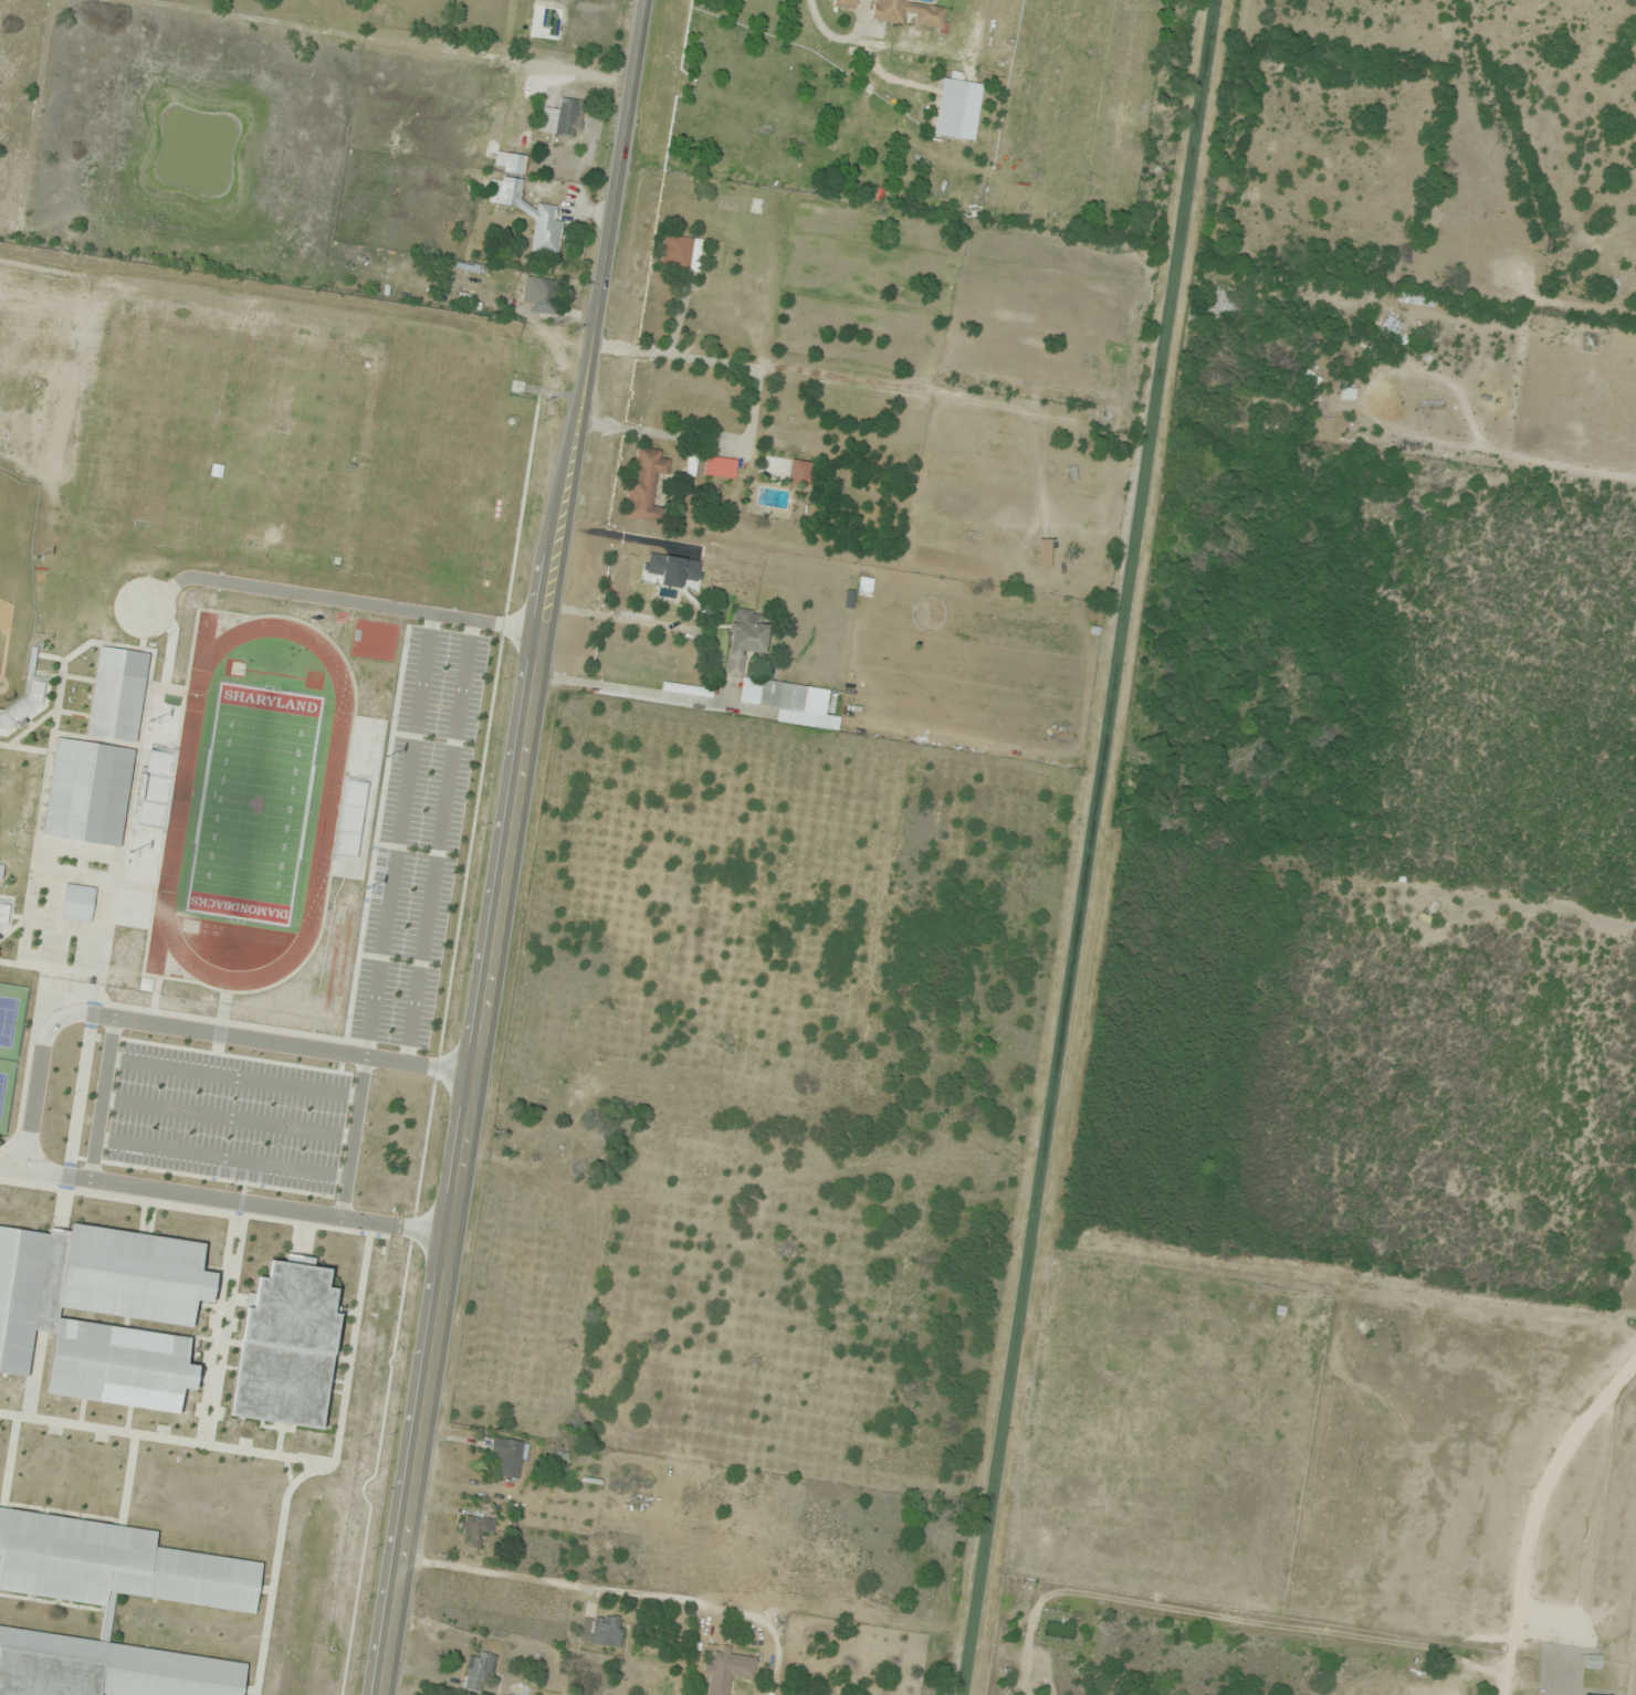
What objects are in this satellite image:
building: (845, 4)
building: (906, 12)
building: (564, 118)
building: (511, 164)
building: (741, 206)
building: (545, 215)
building: (682, 252)
building: (545, 296)
road: (1552, 307)
building: (692, 465)
building: (720, 467)
building: (785, 471)
building: (646, 486)
park: (15, 585)
road: (345, 601)
building: (688, 691)
building: (117, 695)
building: (87, 792)
park: (252, 804)
road: (401, 835)
road: (440, 842)
road: (514, 847)
building: (77, 903)
road: (223, 1013)
park: (9, 1044)
road: (234, 1078)
road: (35, 1092)
road: (104, 1098)
road: (229, 1119)
road: (354, 1137)
road: (222, 1159)
road: (13, 1164)
road: (654, 1193)
building: (102, 1312)
building: (286, 1346)
building: (508, 1457)
road: (1531, 1509)
building: (476, 1529)
building: (104, 1609)
building: (601, 1631)
building: (1592, 1663)
building: (727, 1671)

